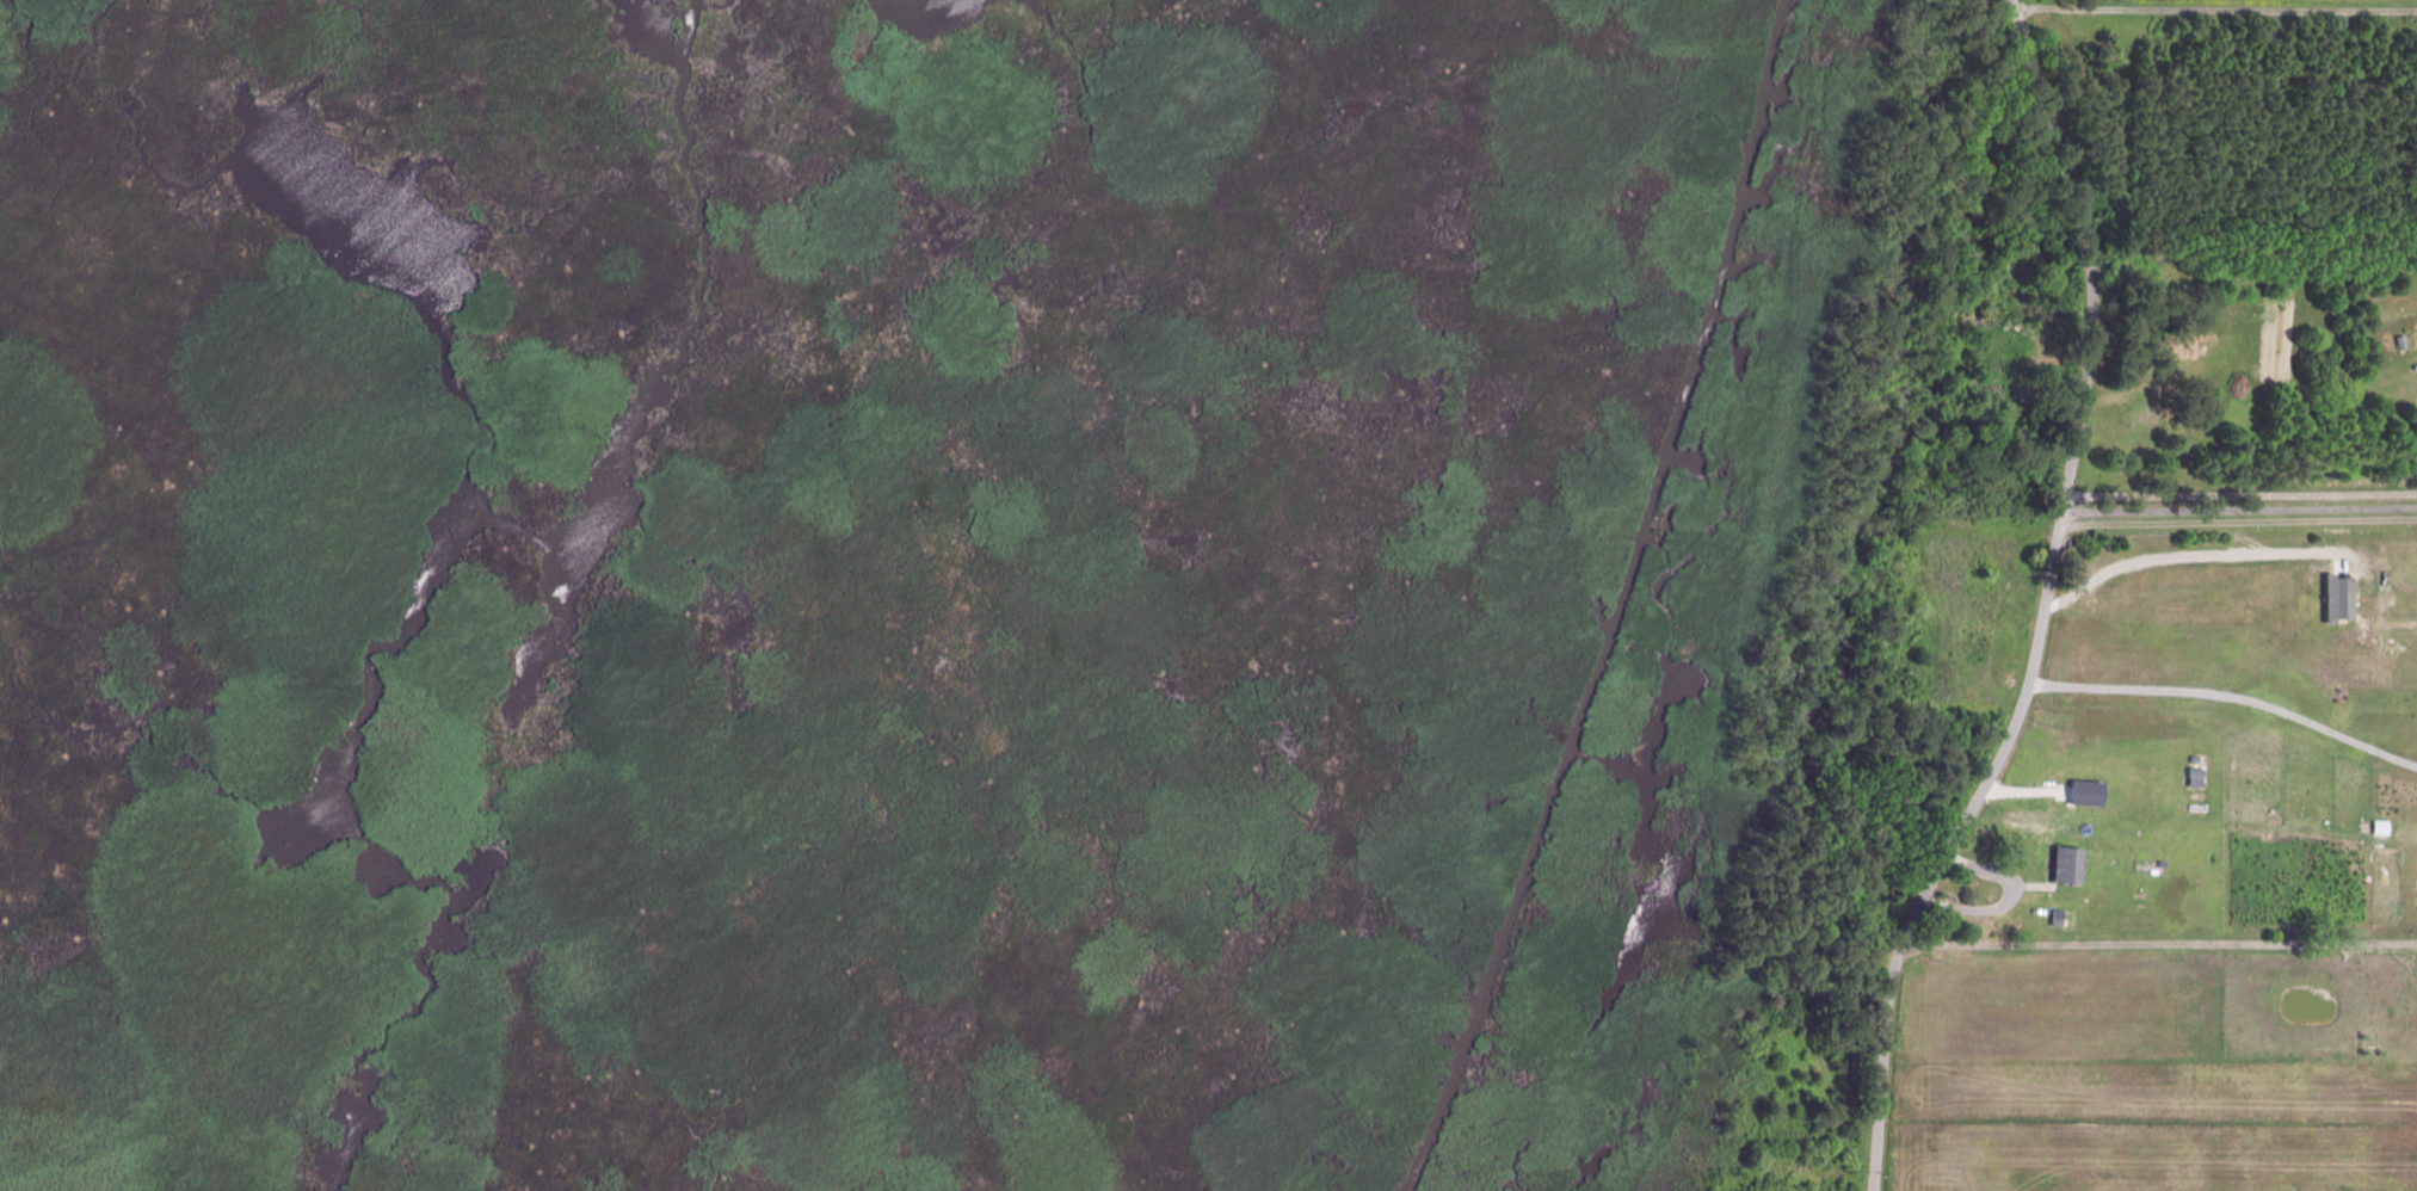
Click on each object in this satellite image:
road: (2214, 12)
road: (2240, 495)
road: (2240, 511)
road: (2239, 524)
road: (2193, 557)
building: (2336, 599)
road: (2045, 604)
road: (2228, 698)
building: (2084, 795)
building: (2070, 865)
building: (2061, 918)
road: (2159, 948)
building: (2412, 976)
building: (1763, 1187)

